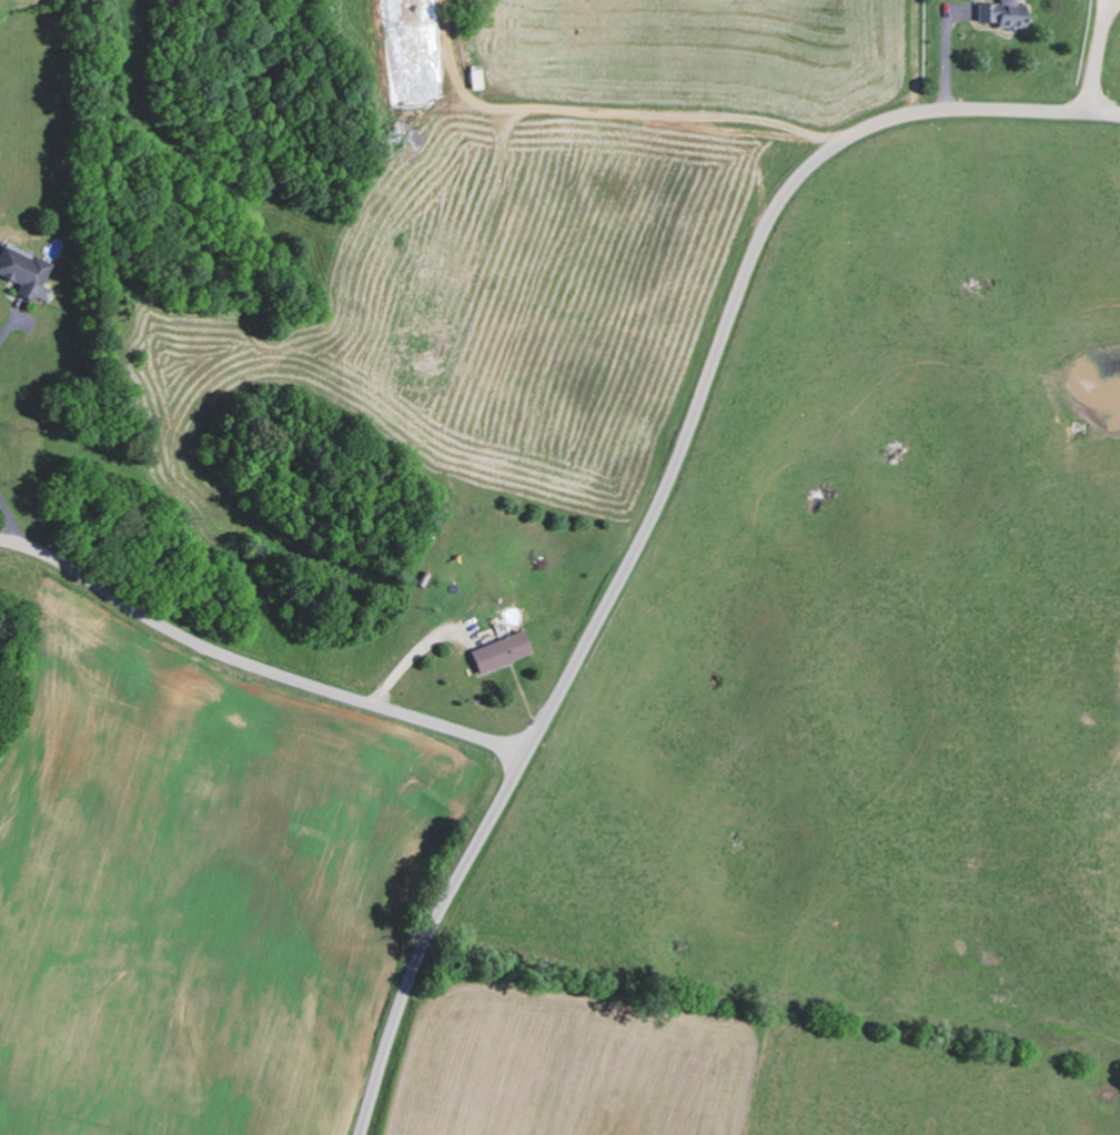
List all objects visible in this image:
building: (1002, 11)
building: (24, 271)
road: (656, 506)
building: (500, 650)
road: (253, 666)

